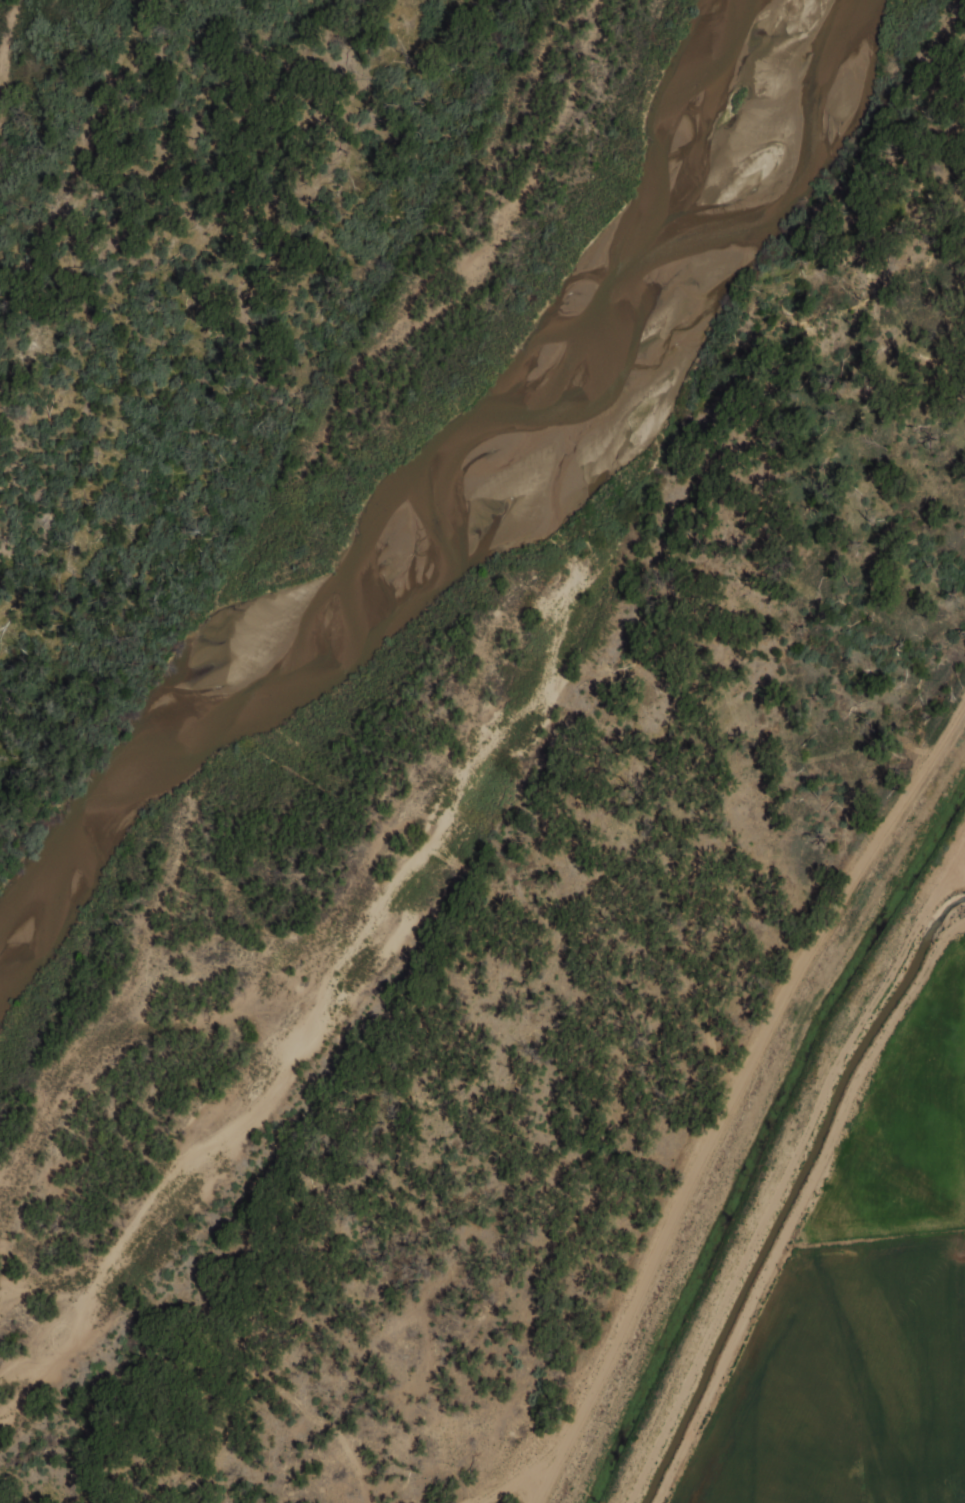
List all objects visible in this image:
river: (441, 652)

